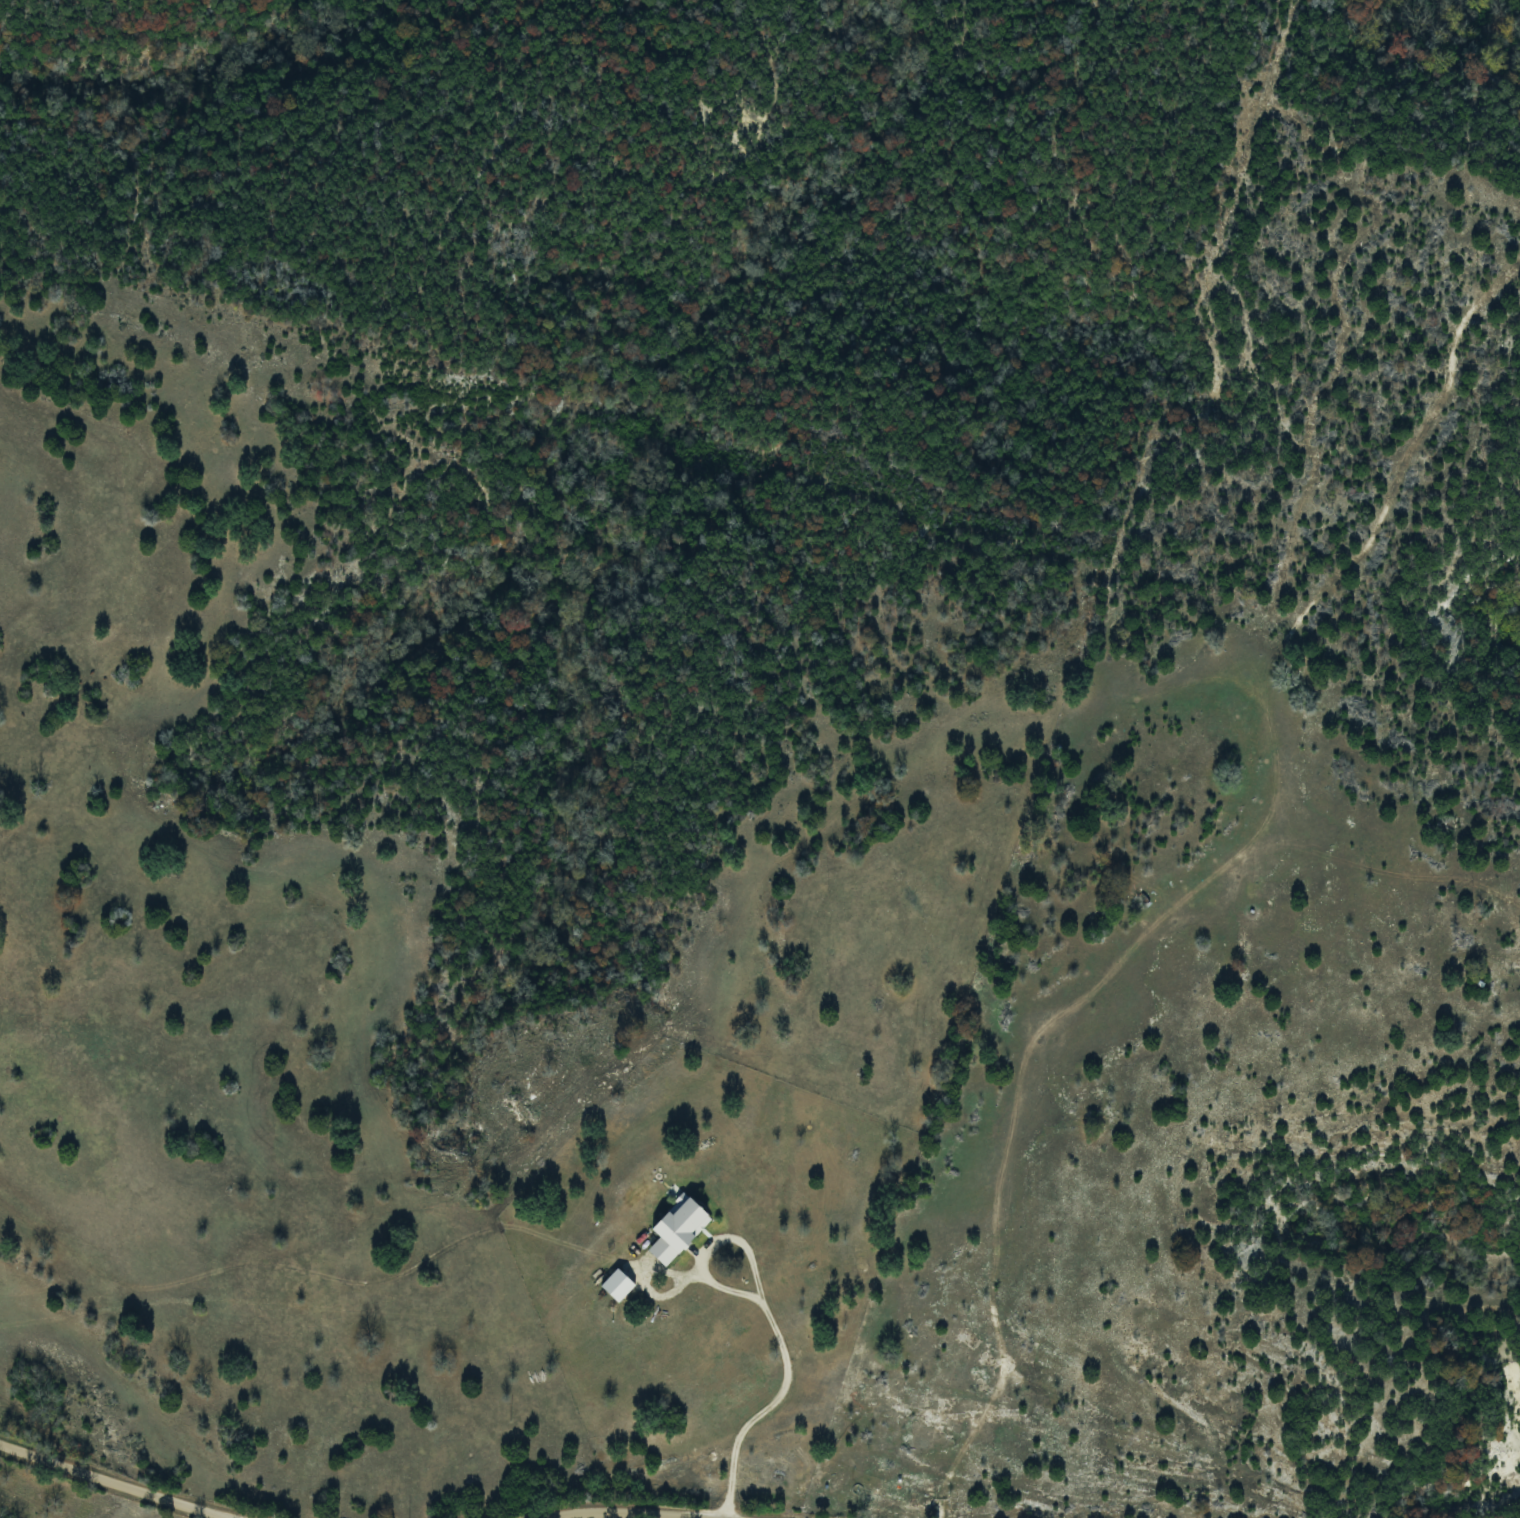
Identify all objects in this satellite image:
road: (113, 1483)
road: (620, 1513)

